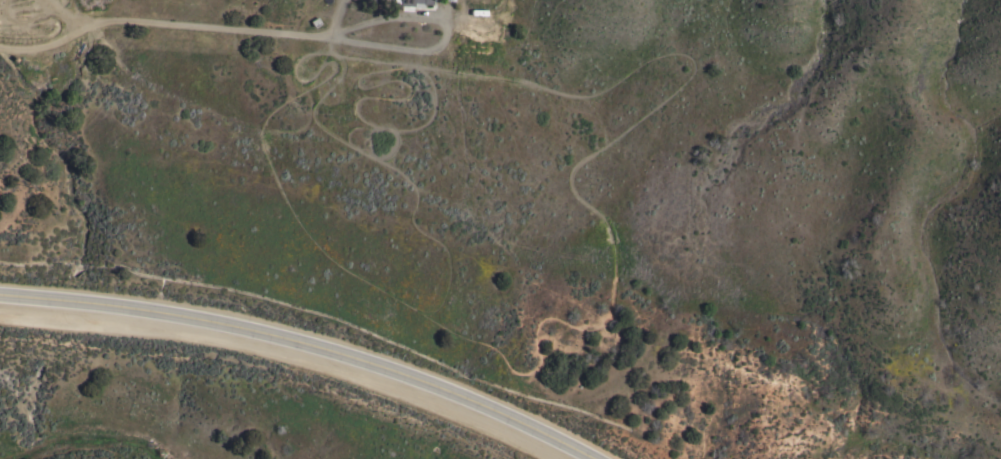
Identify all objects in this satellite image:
building: (370, 1)
building: (413, 2)
road: (153, 23)
road: (442, 30)
road: (297, 349)

